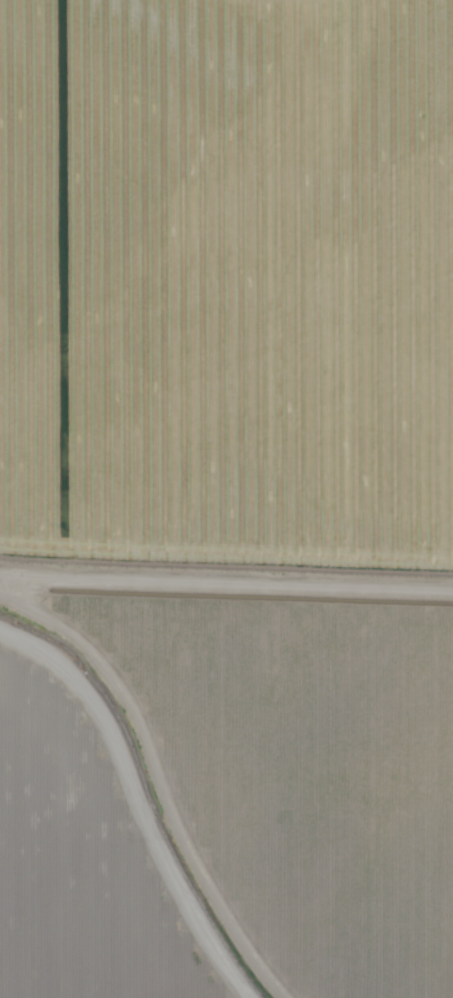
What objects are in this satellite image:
crop: (250, 430)
crop: (152, 794)
crop: (80, 862)

